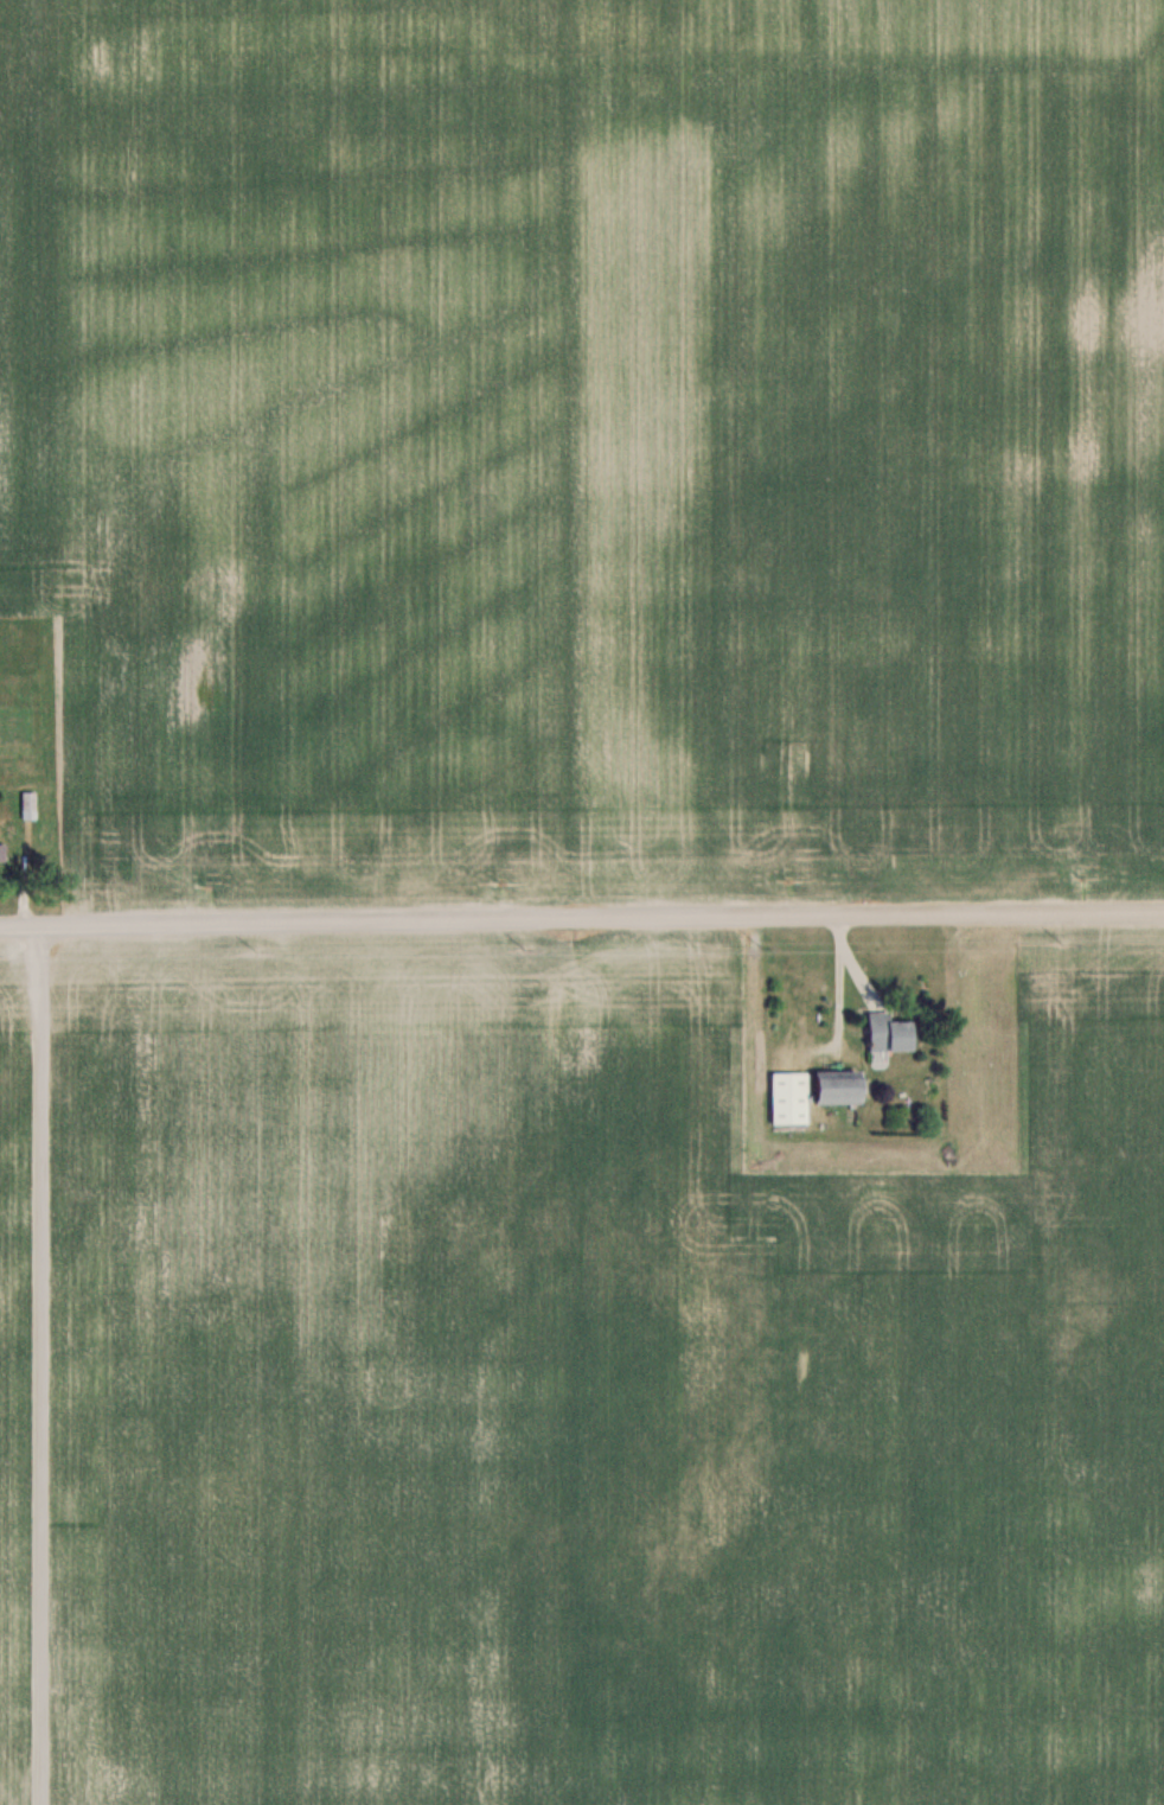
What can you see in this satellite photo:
building: (28, 804)
building: (1, 849)
road: (582, 920)
building: (888, 1033)
building: (838, 1086)
building: (788, 1097)
road: (18, 1364)

